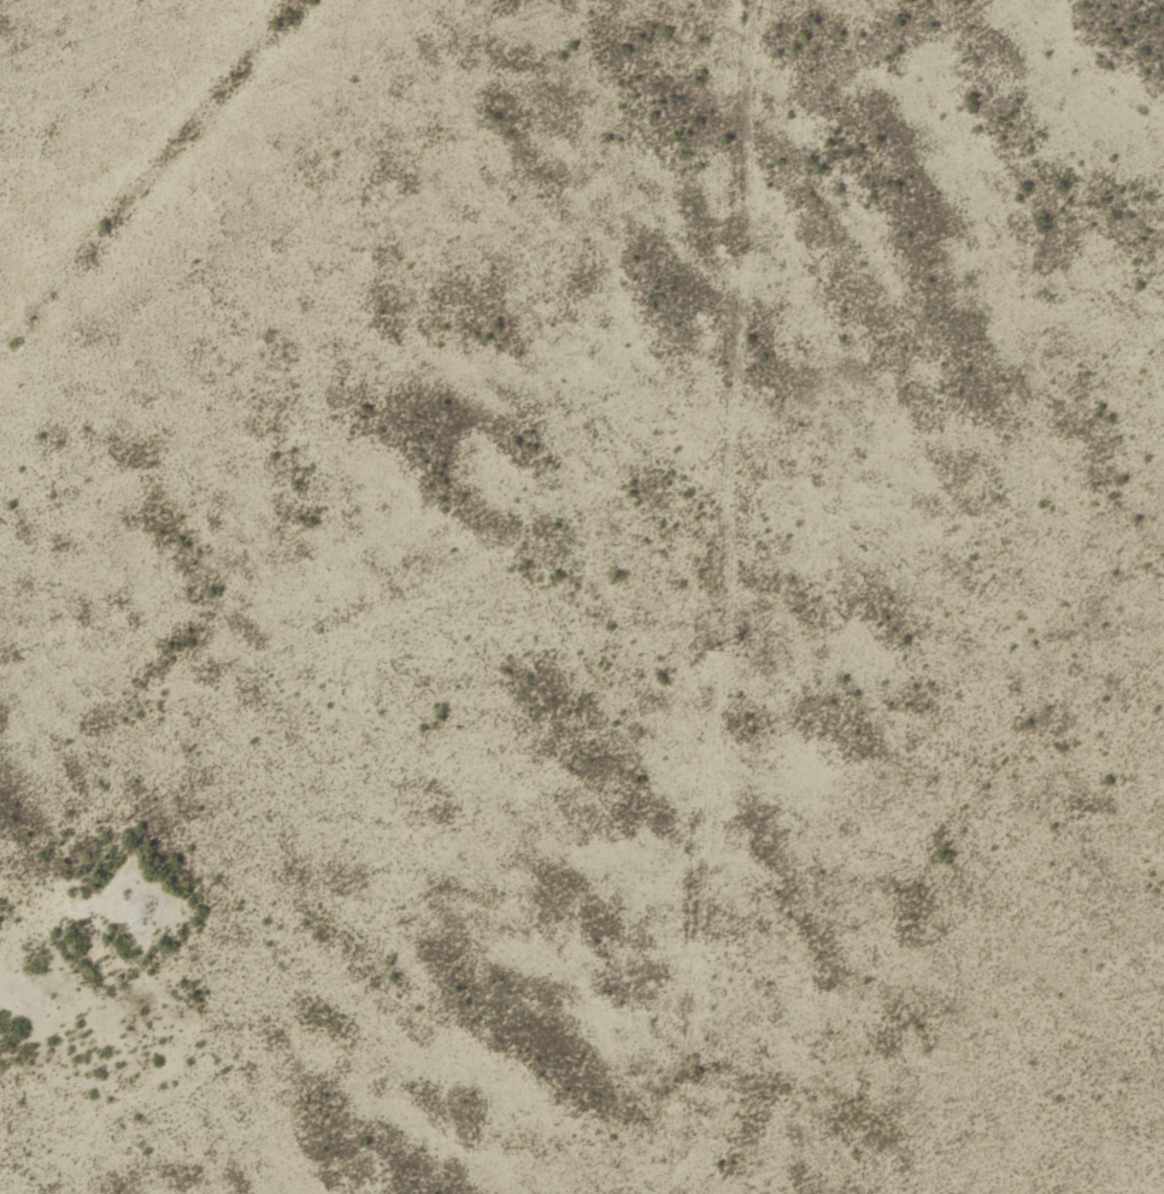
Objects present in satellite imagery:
power tower: (734, 255)
power tower: (710, 651)
power tower: (686, 1082)

